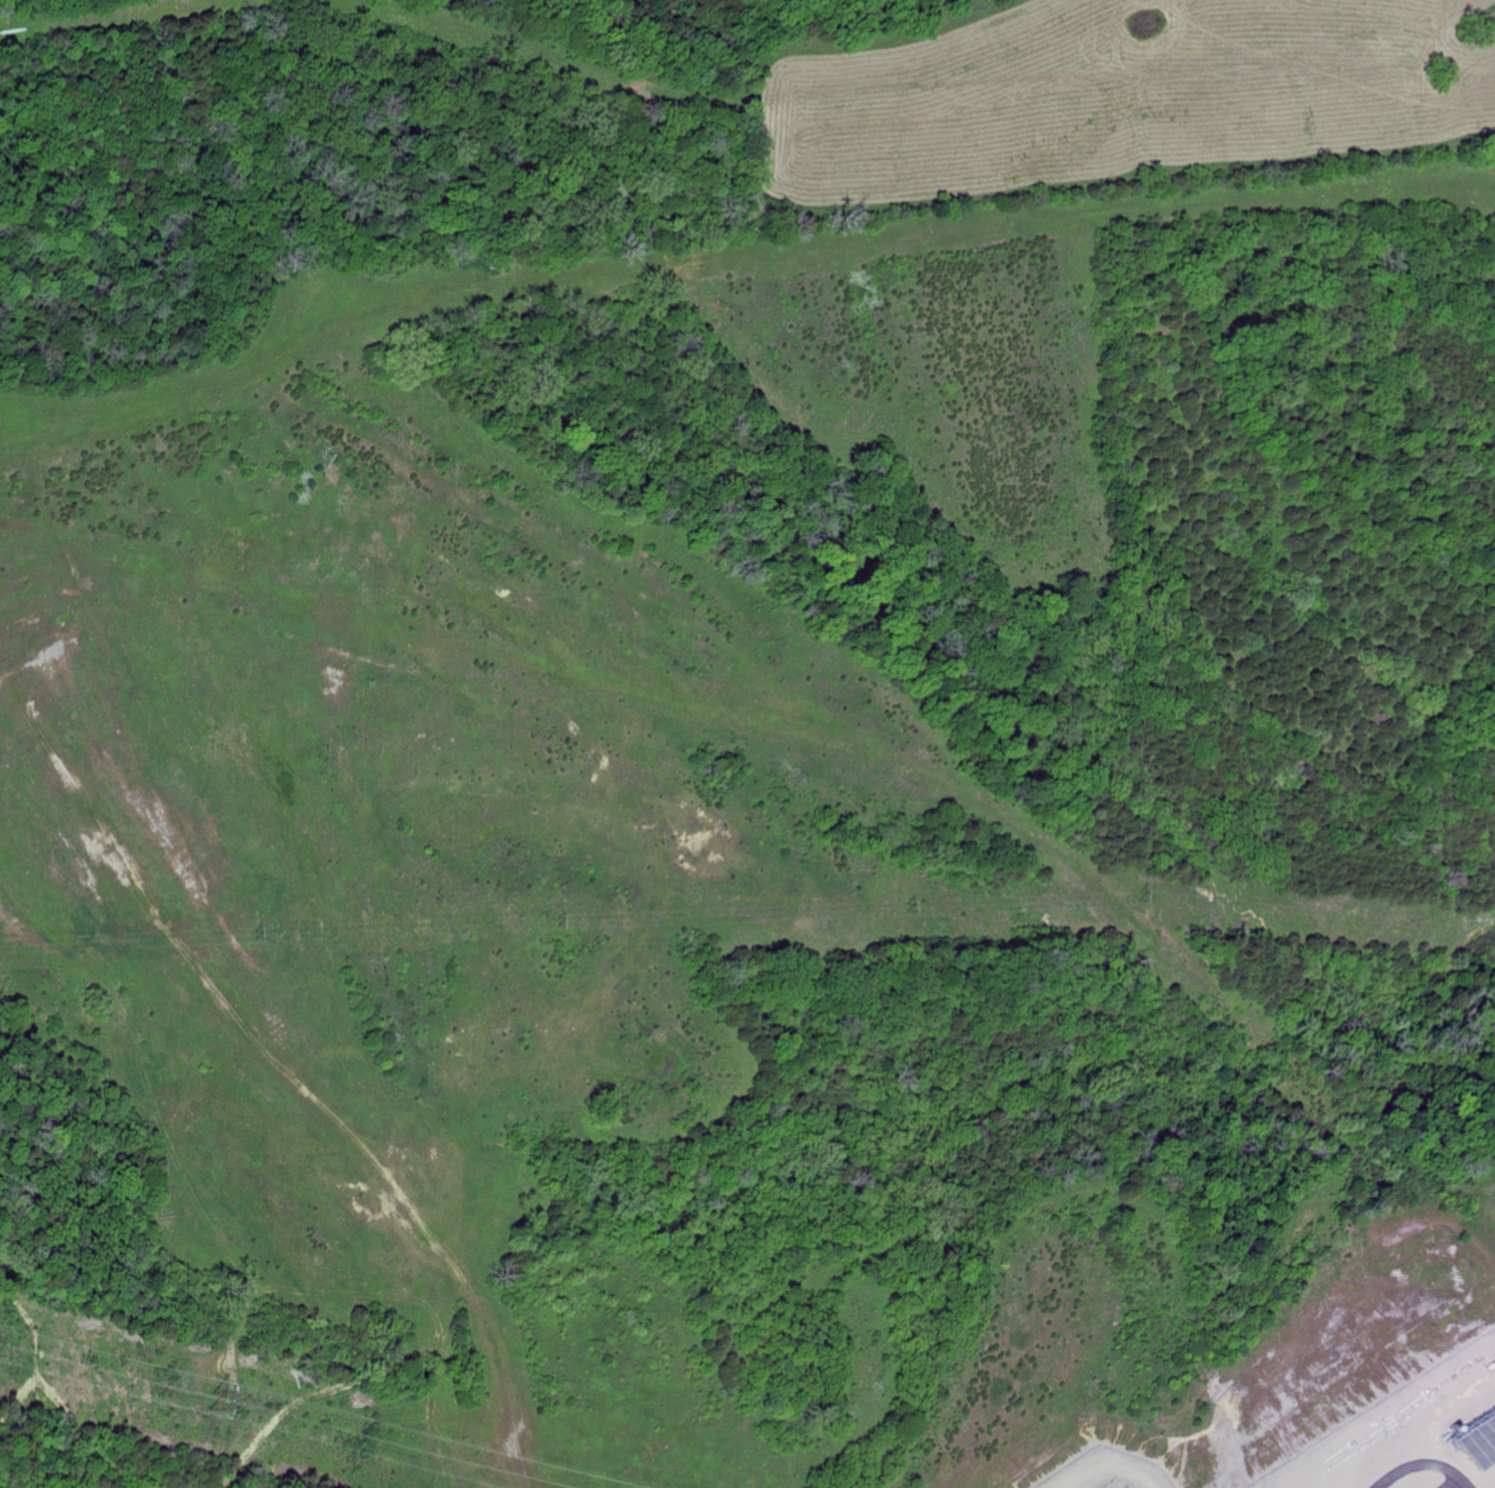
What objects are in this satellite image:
power tower: (1130, 893)
power tower: (898, 903)
power tower: (562, 918)
power tower: (259, 932)
power tower: (219, 1399)
building: (1469, 1433)
road: (1414, 1465)
power substation: (1102, 1472)
building: (1492, 1486)

